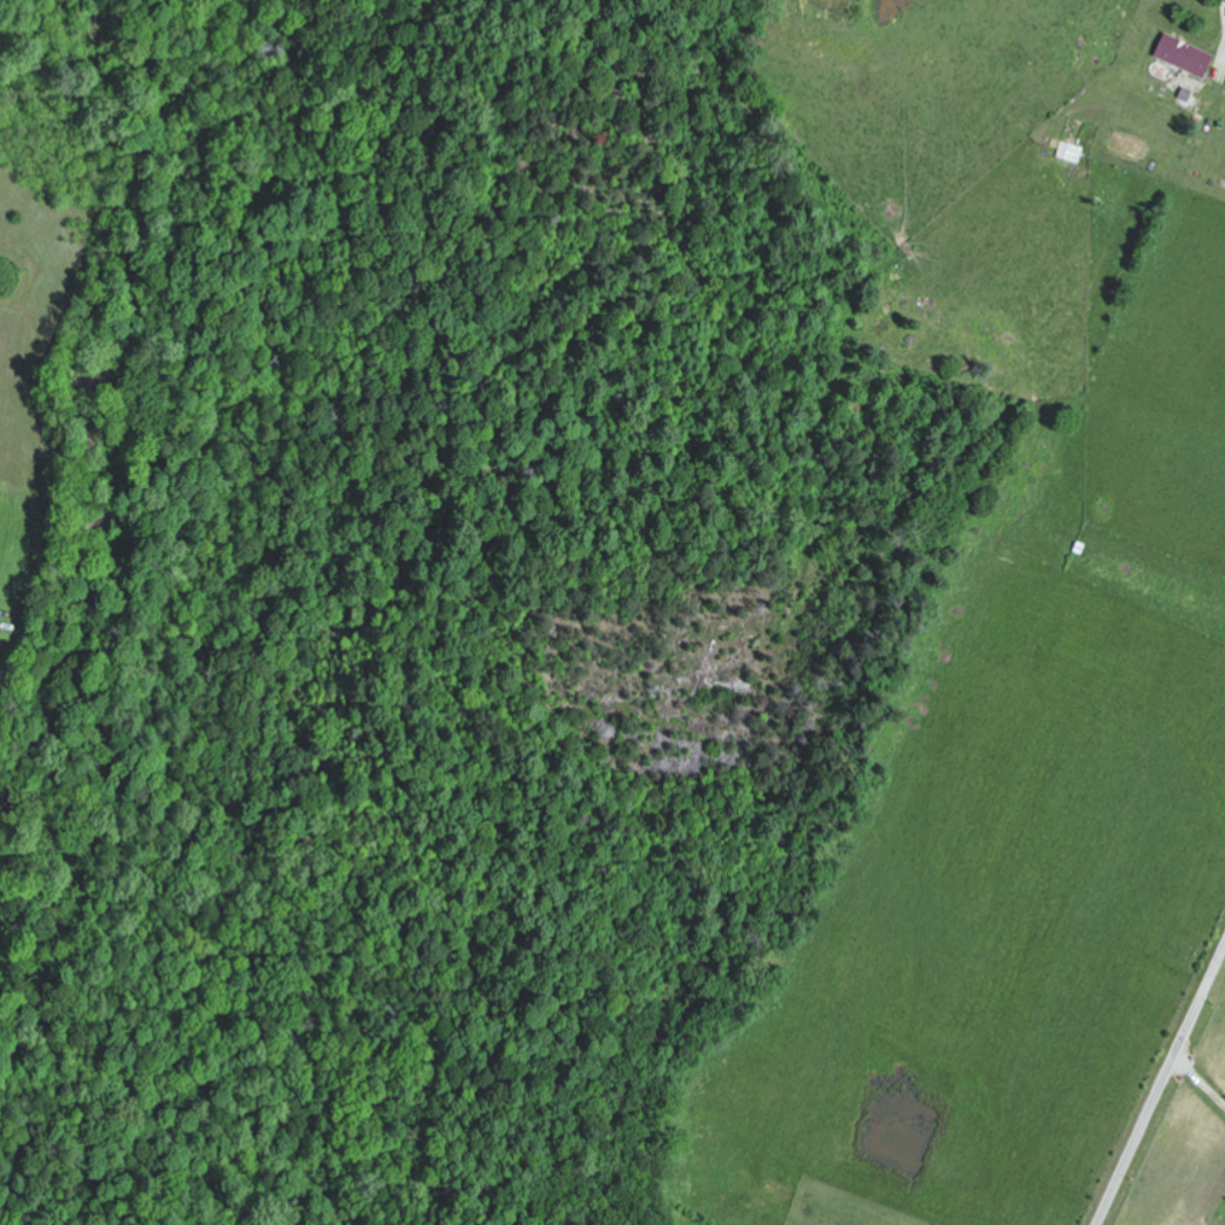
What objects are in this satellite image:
building: (1183, 54)
building: (1068, 150)
road: (1160, 1085)

